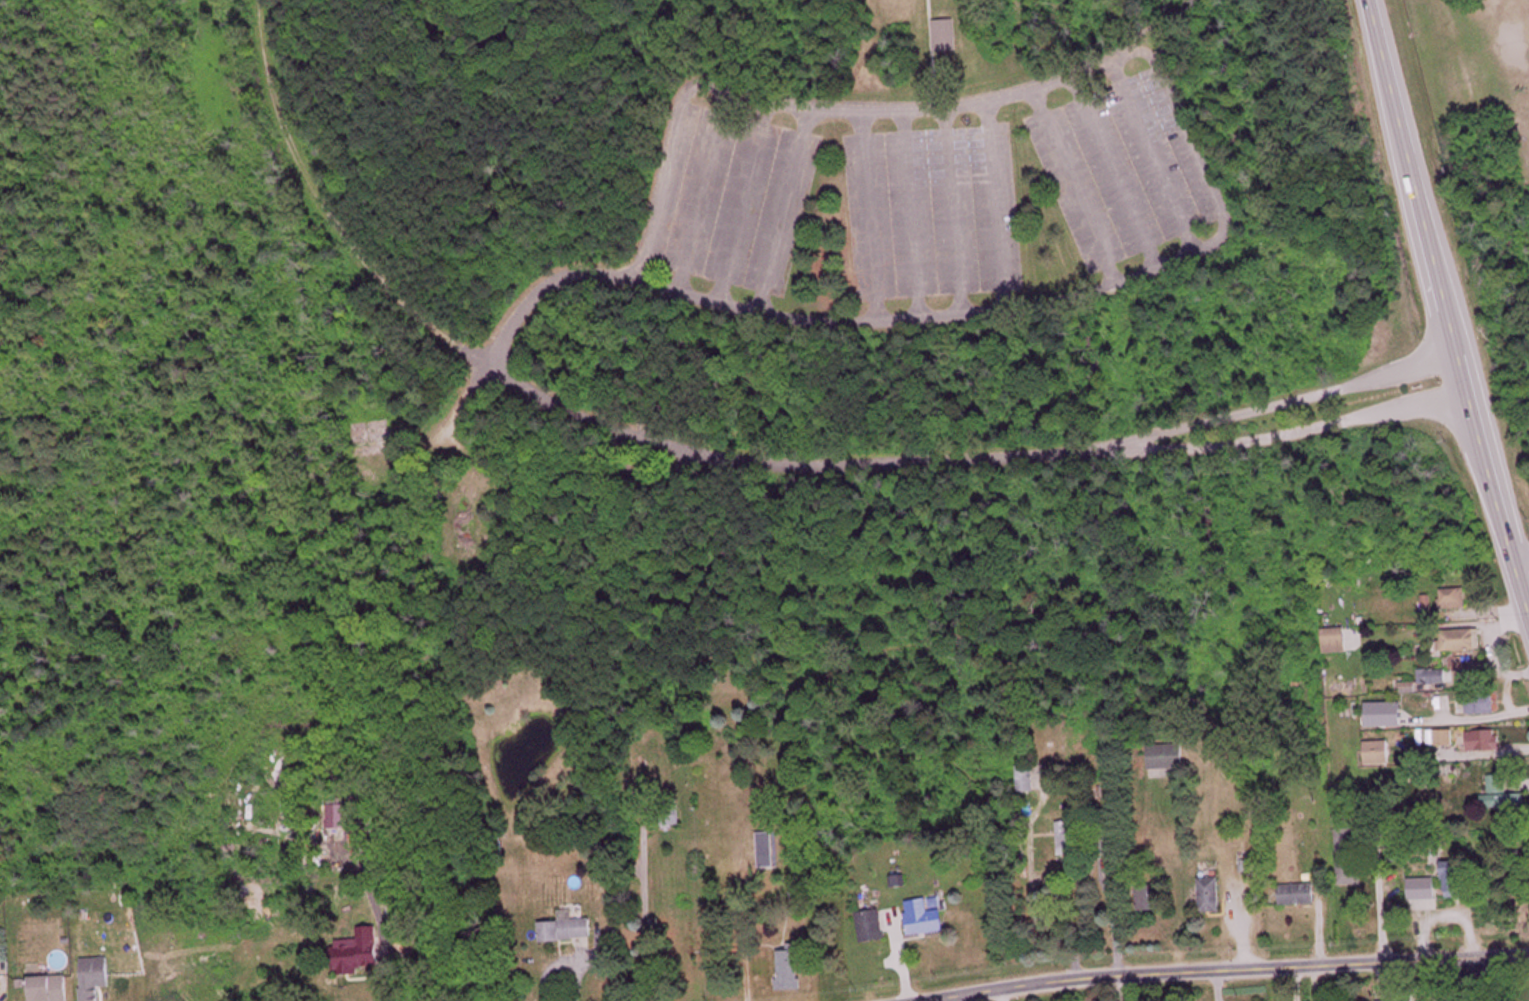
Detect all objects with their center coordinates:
road: (1161, 21)
building: (944, 34)
road: (932, 54)
road: (1152, 156)
road: (1115, 172)
road: (1076, 188)
road: (703, 192)
road: (743, 202)
road: (996, 207)
road: (784, 211)
road: (955, 211)
road: (912, 214)
road: (871, 216)
road: (331, 218)
road: (1203, 245)
road: (536, 290)
park: (745, 302)
road: (1445, 306)
road: (1276, 405)
road: (1282, 436)
road: (788, 461)
road: (1521, 555)
building: (1454, 599)
building: (1336, 640)
building: (1462, 640)
building: (1433, 676)
building: (1483, 703)
building: (1386, 714)
building: (1445, 737)
building: (1485, 741)
building: (1168, 757)
building: (1027, 779)
building: (1506, 801)
building: (1074, 832)
building: (766, 851)
building: (1349, 862)
building: (1455, 880)
building: (1423, 889)
building: (1298, 895)
building: (1211, 896)
building: (926, 917)
building: (872, 927)
building: (568, 929)
building: (359, 951)
road: (1212, 967)
building: (791, 970)
building: (0, 977)
building: (96, 977)
road: (1452, 980)
building: (52, 988)

